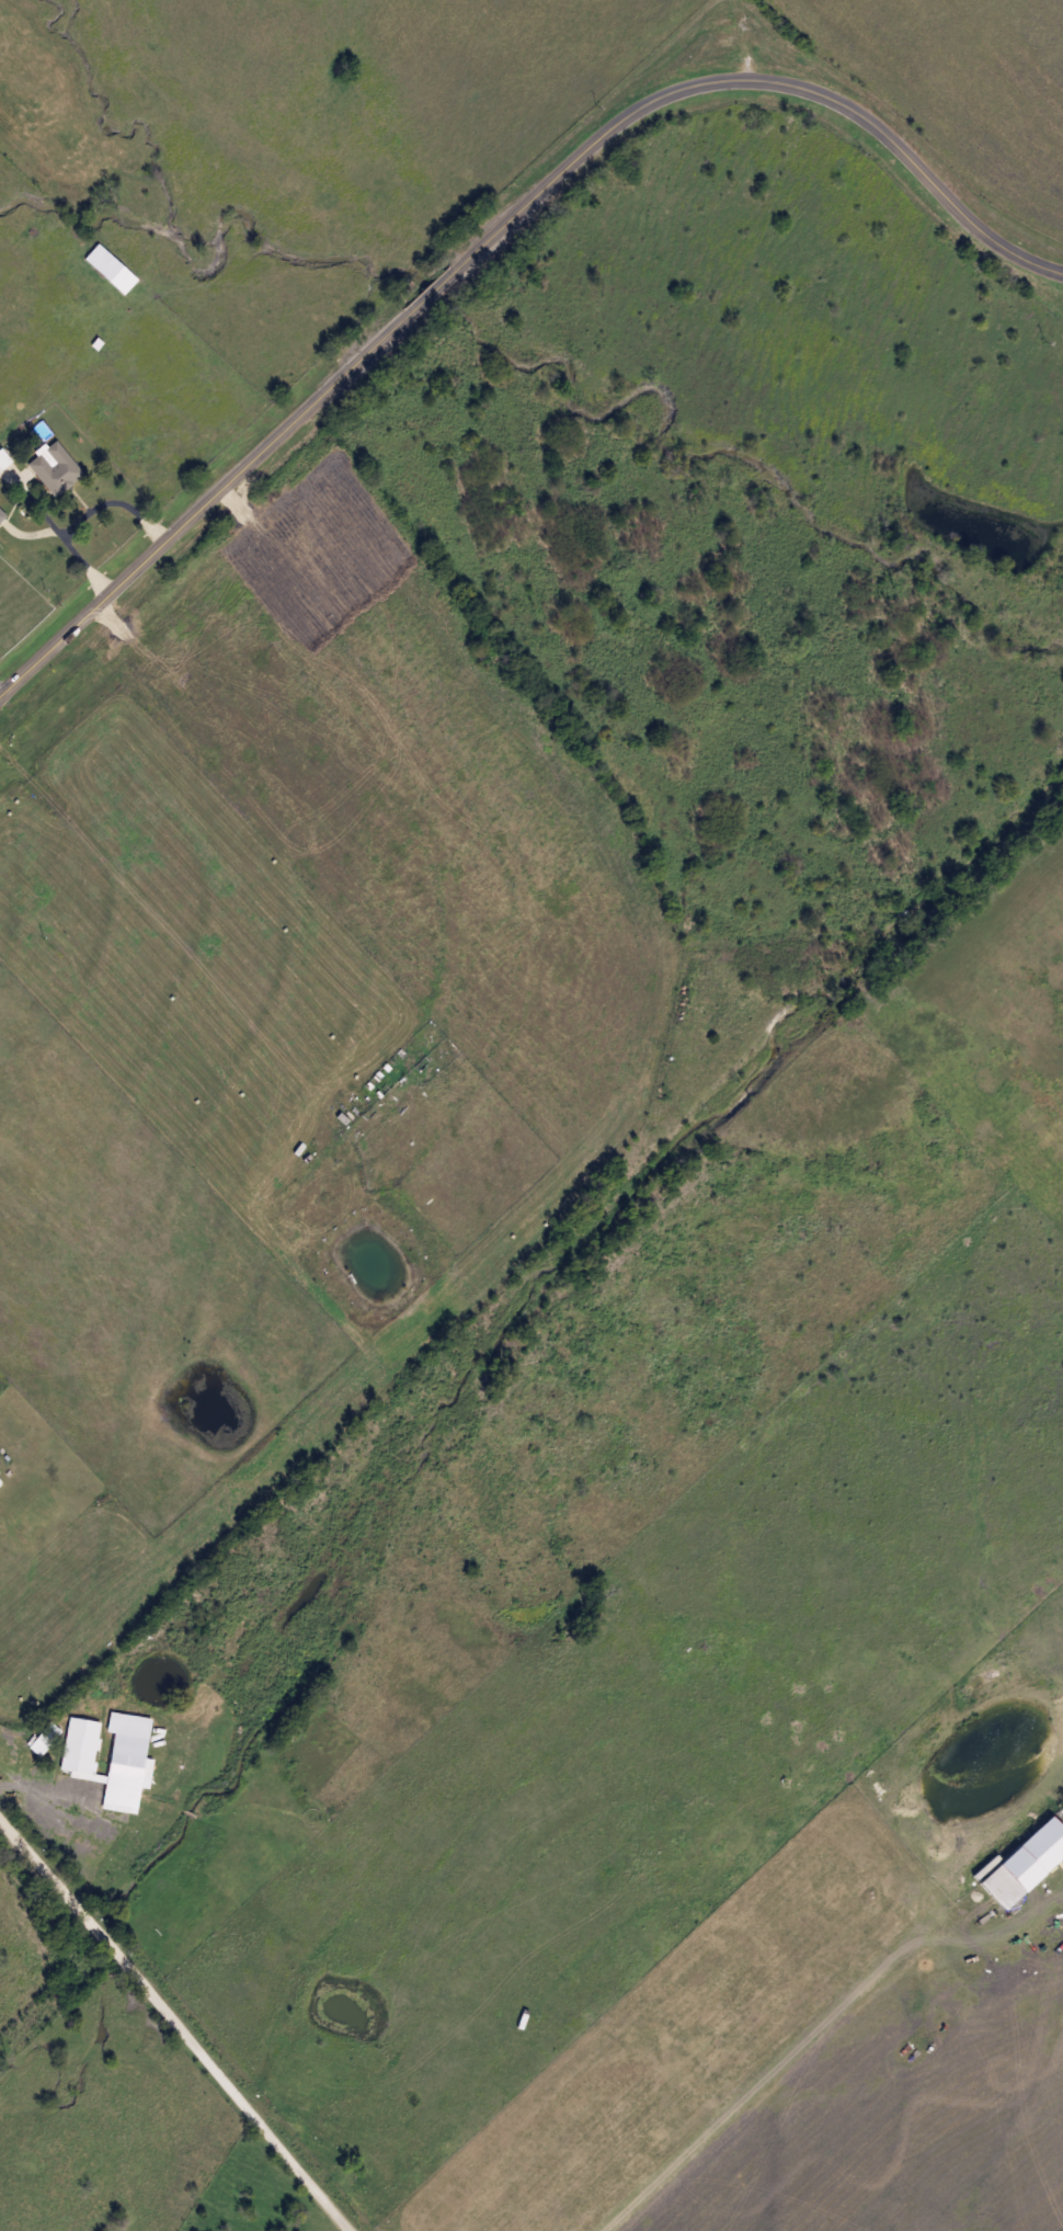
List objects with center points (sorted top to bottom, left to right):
road: (495, 231)
building: (108, 269)
building: (3, 460)
building: (54, 468)
road: (122, 498)
road: (76, 542)
road: (2, 690)
building: (124, 1768)
road: (36, 1786)
building: (1019, 1869)
road: (179, 2024)
road: (810, 2037)
road: (353, 2228)

